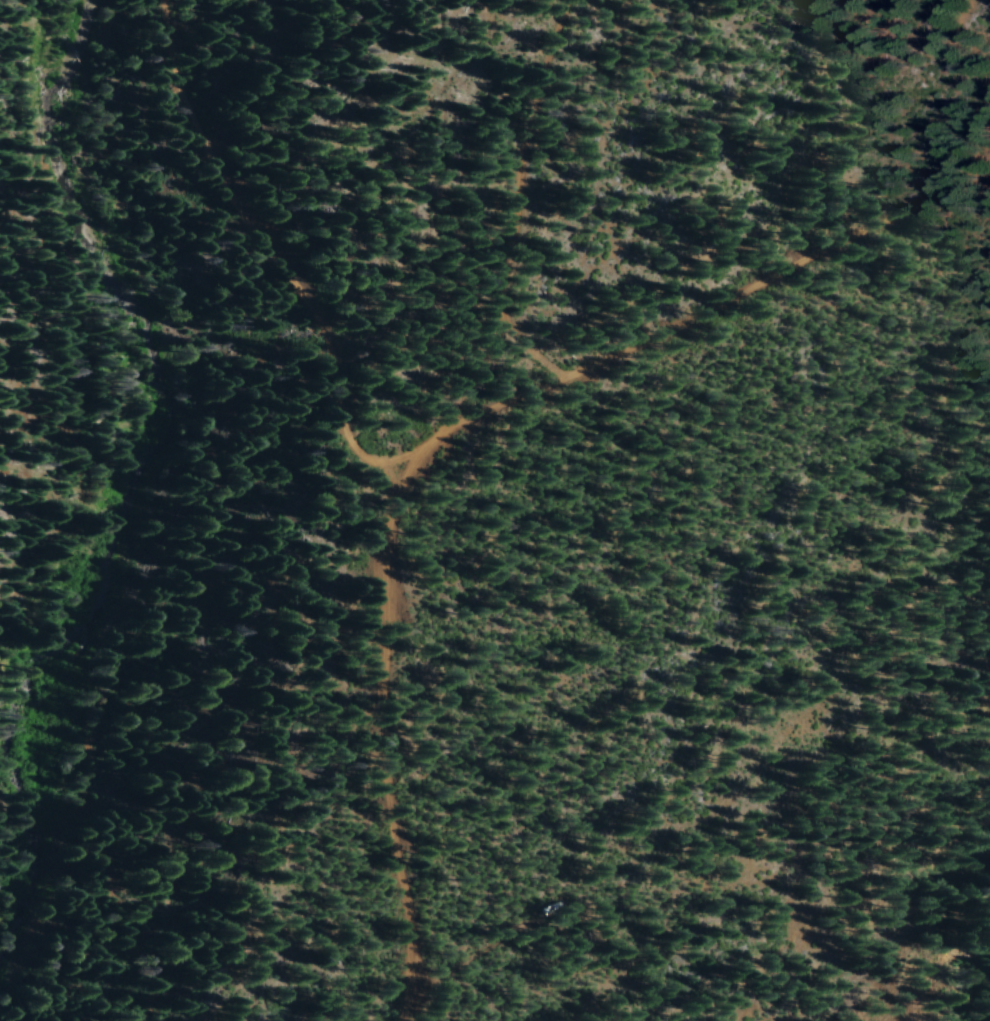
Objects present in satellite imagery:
road: (538, 227)
road: (454, 451)
road: (404, 746)
road: (182, 1004)

